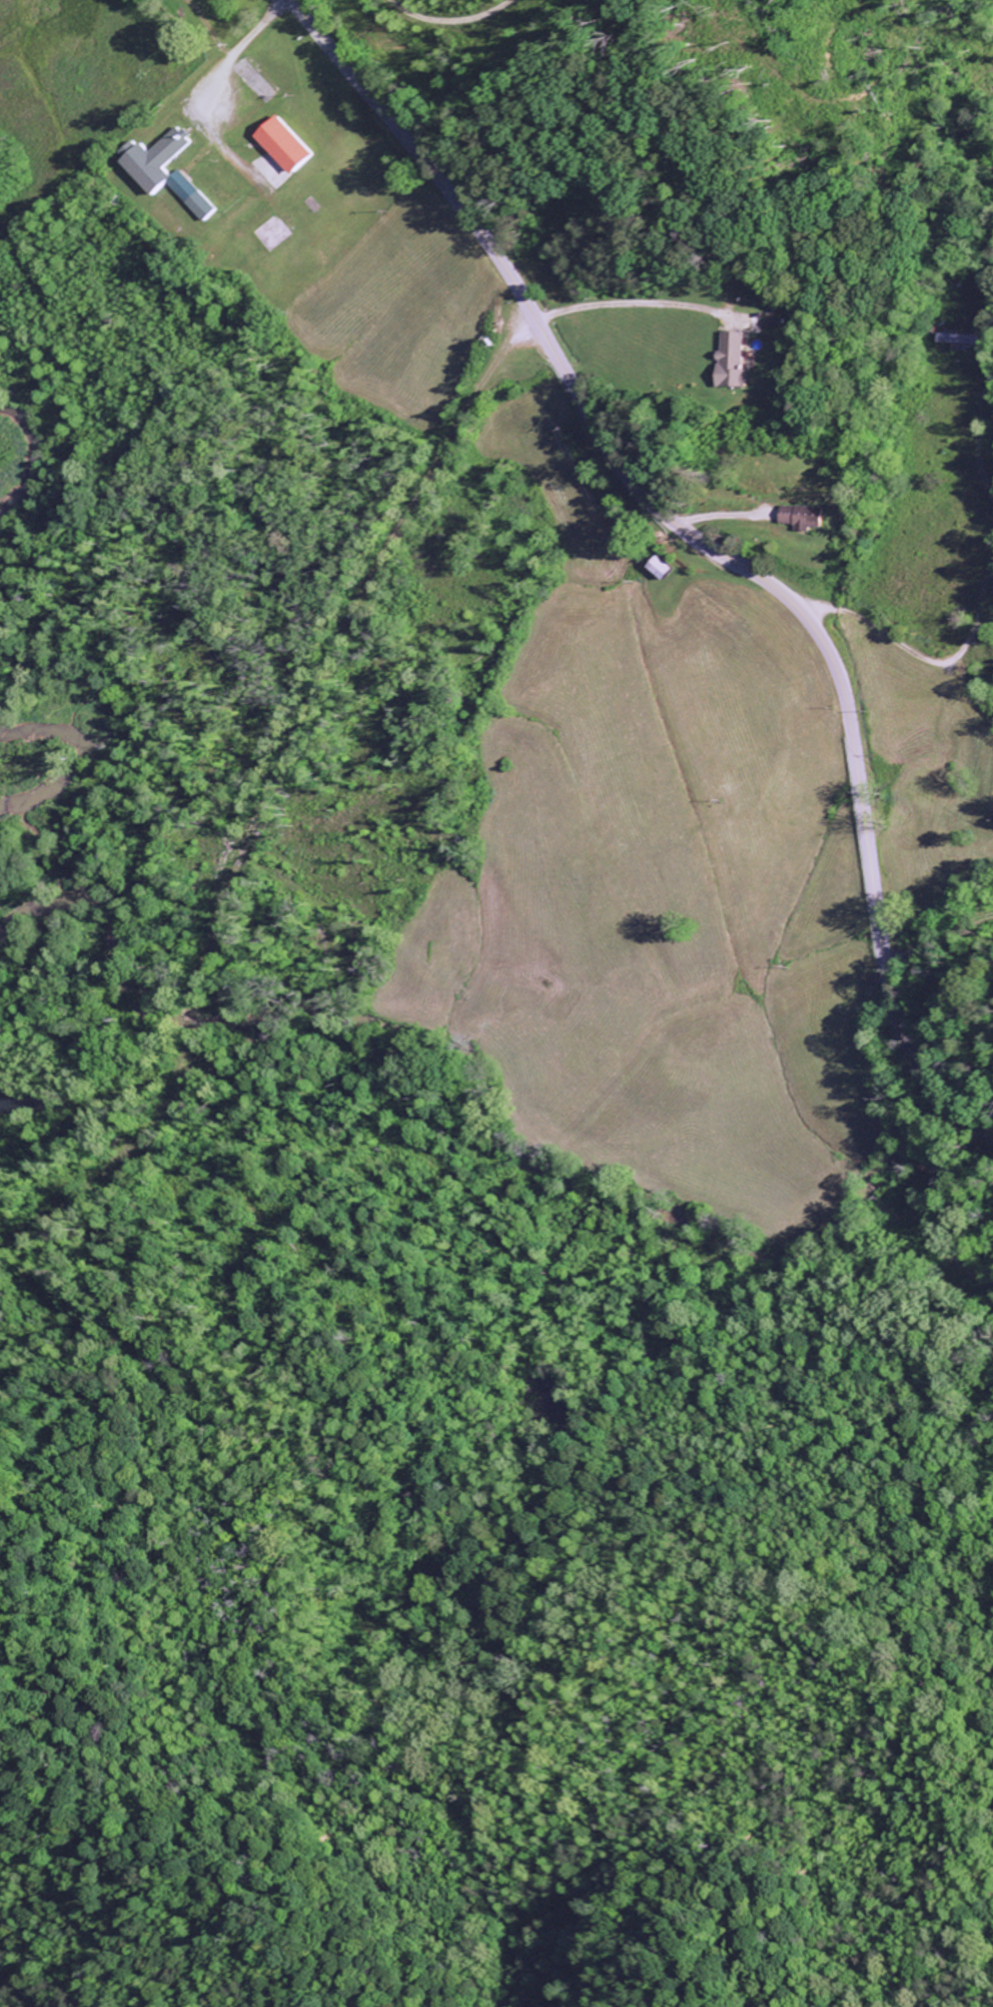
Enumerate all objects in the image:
building: (289, 145)
building: (169, 169)
building: (962, 339)
building: (736, 359)
building: (809, 517)
road: (706, 544)
road: (896, 628)
road: (930, 923)
road: (986, 1023)

